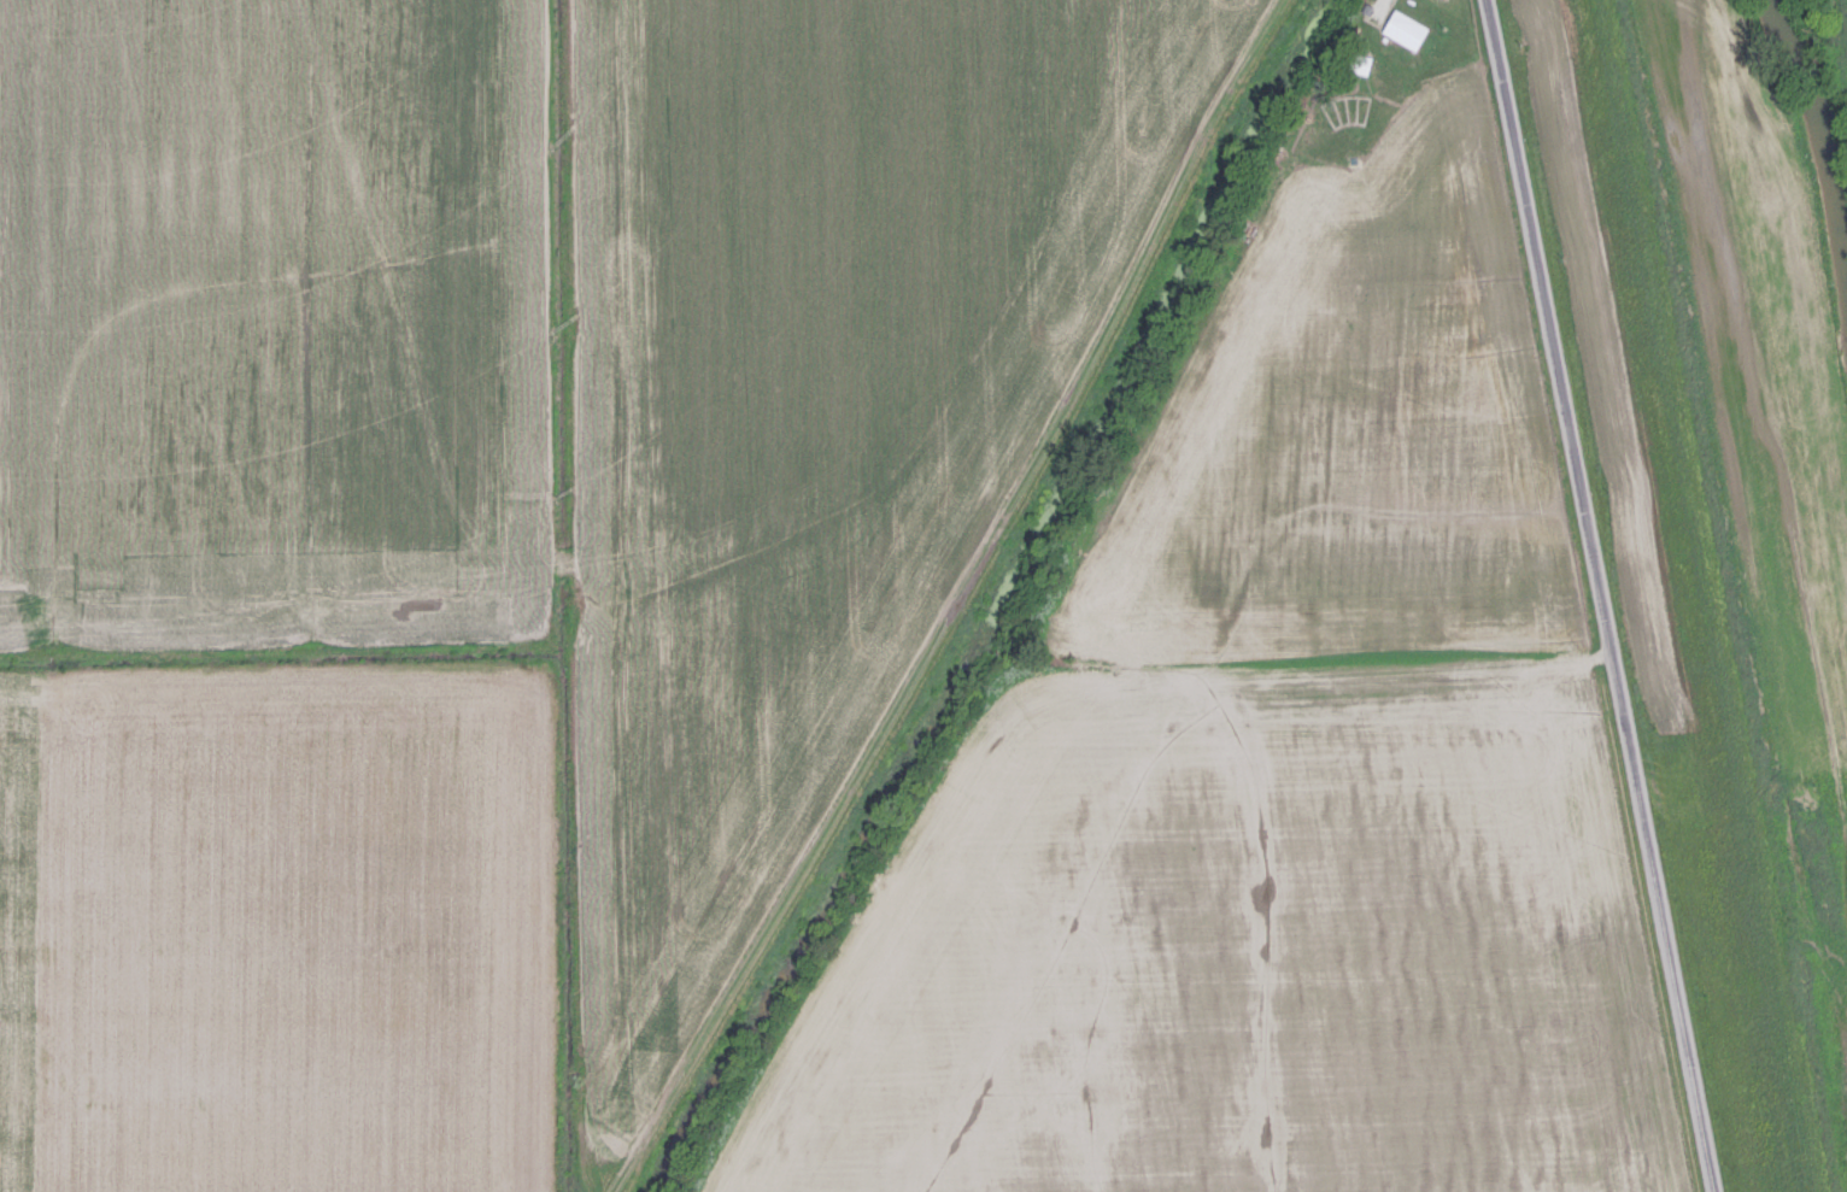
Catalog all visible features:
building: (1411, 31)
road: (1530, 594)

